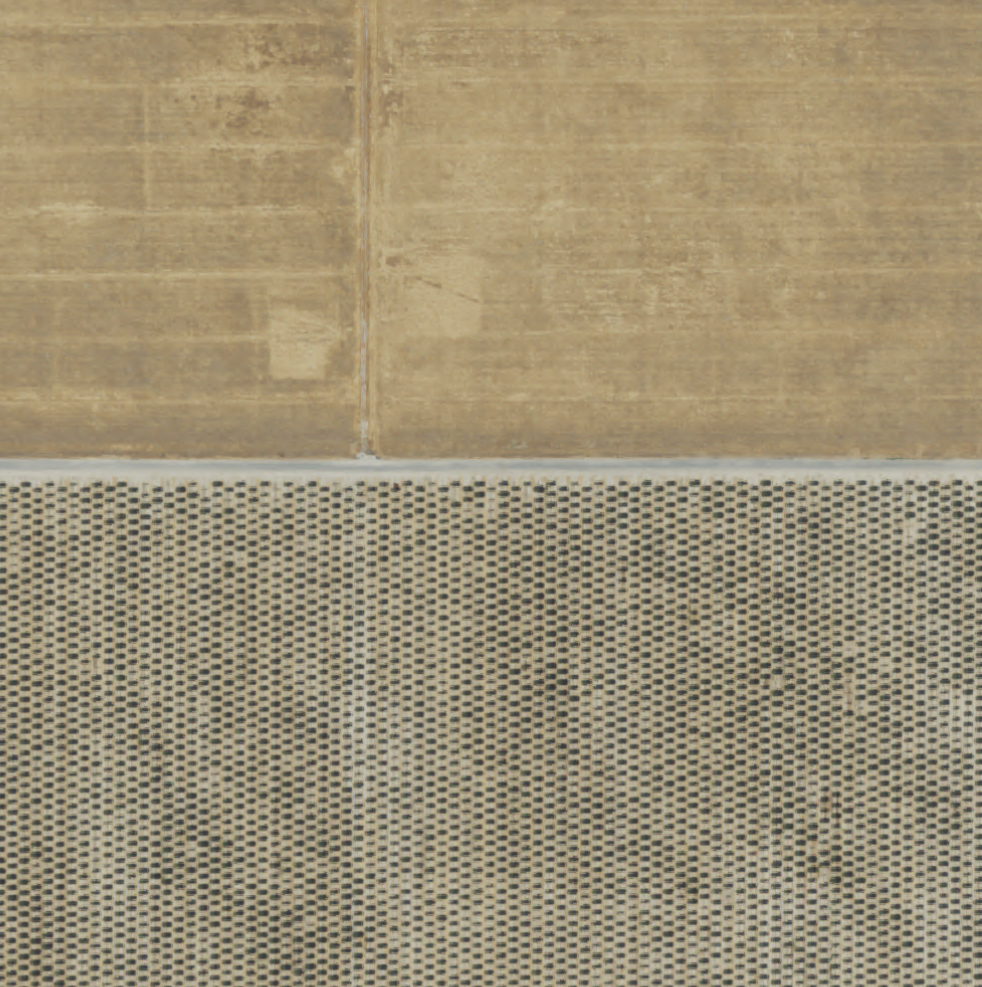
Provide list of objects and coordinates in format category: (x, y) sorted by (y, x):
crop: (180, 232)
crop: (674, 232)
road: (363, 237)
road: (491, 472)

